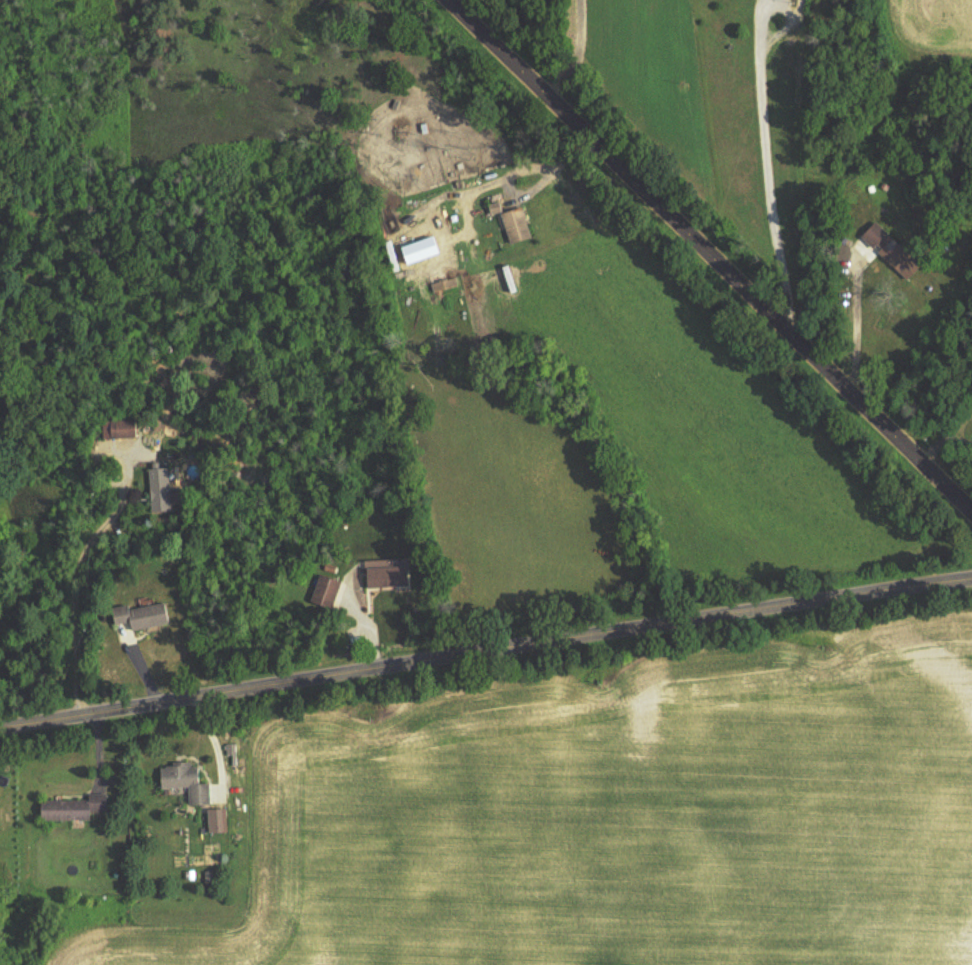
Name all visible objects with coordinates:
road: (577, 57)
road: (766, 167)
building: (517, 226)
building: (898, 257)
road: (709, 258)
building: (444, 285)
road: (858, 330)
building: (127, 429)
road: (939, 437)
building: (161, 490)
building: (391, 577)
road: (74, 591)
building: (327, 593)
building: (147, 616)
road: (485, 658)
building: (186, 783)
building: (74, 809)

